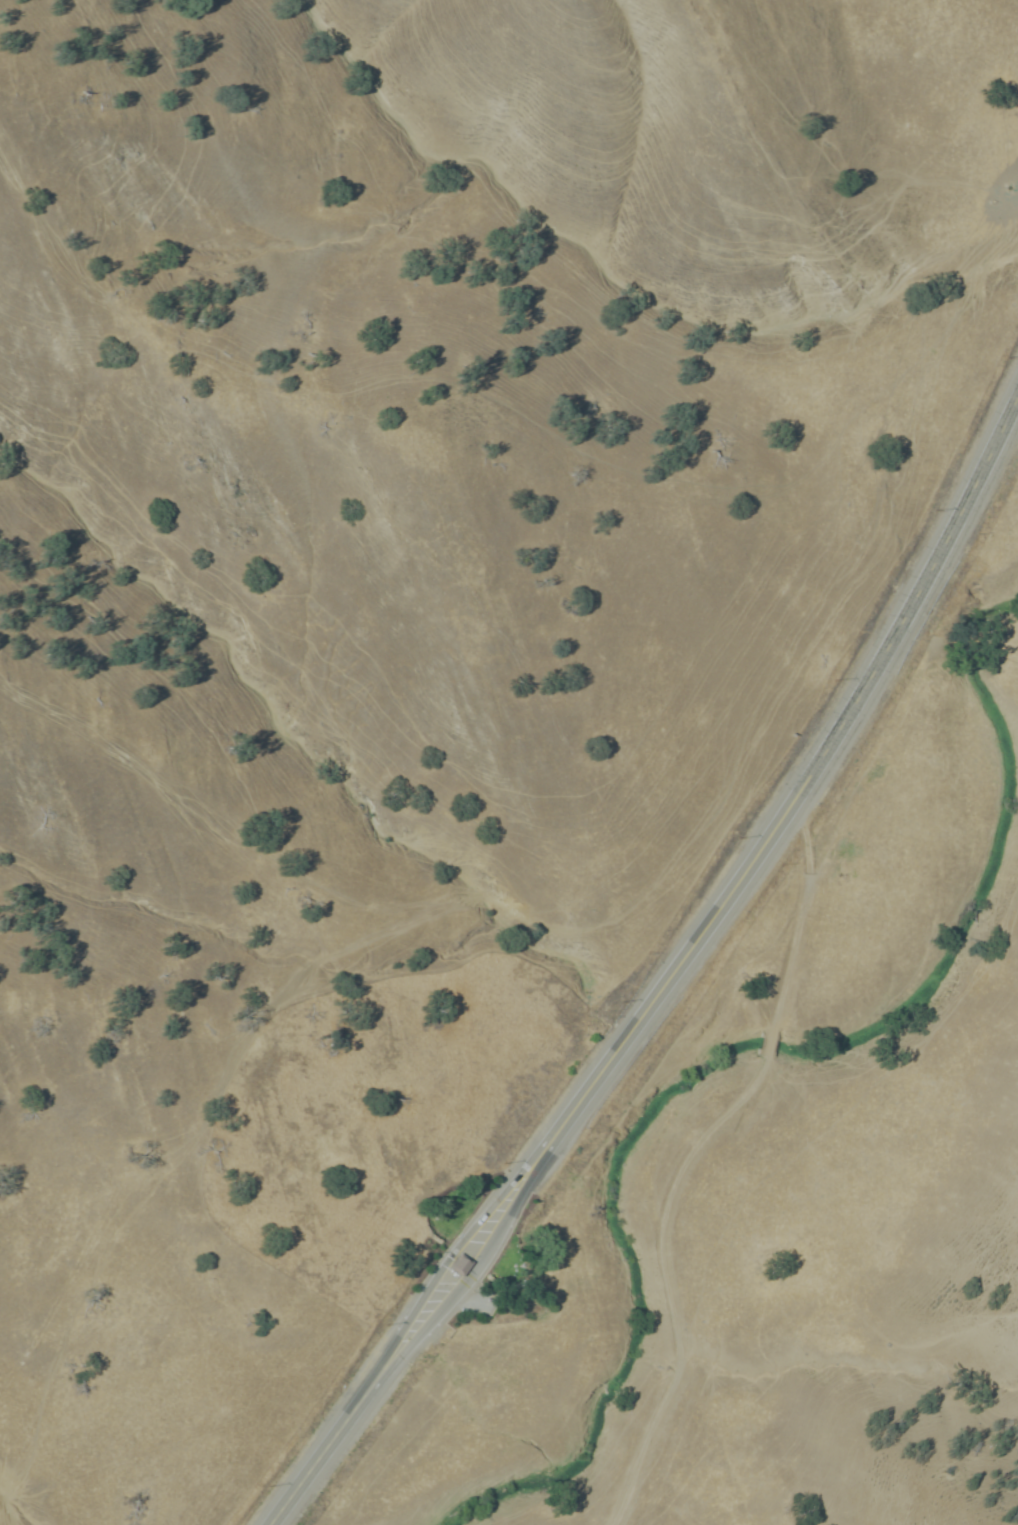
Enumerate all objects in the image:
road: (937, 559)
road: (694, 943)
road: (731, 1122)
road: (450, 1255)
building: (463, 1265)
road: (473, 1272)
road: (329, 1444)

